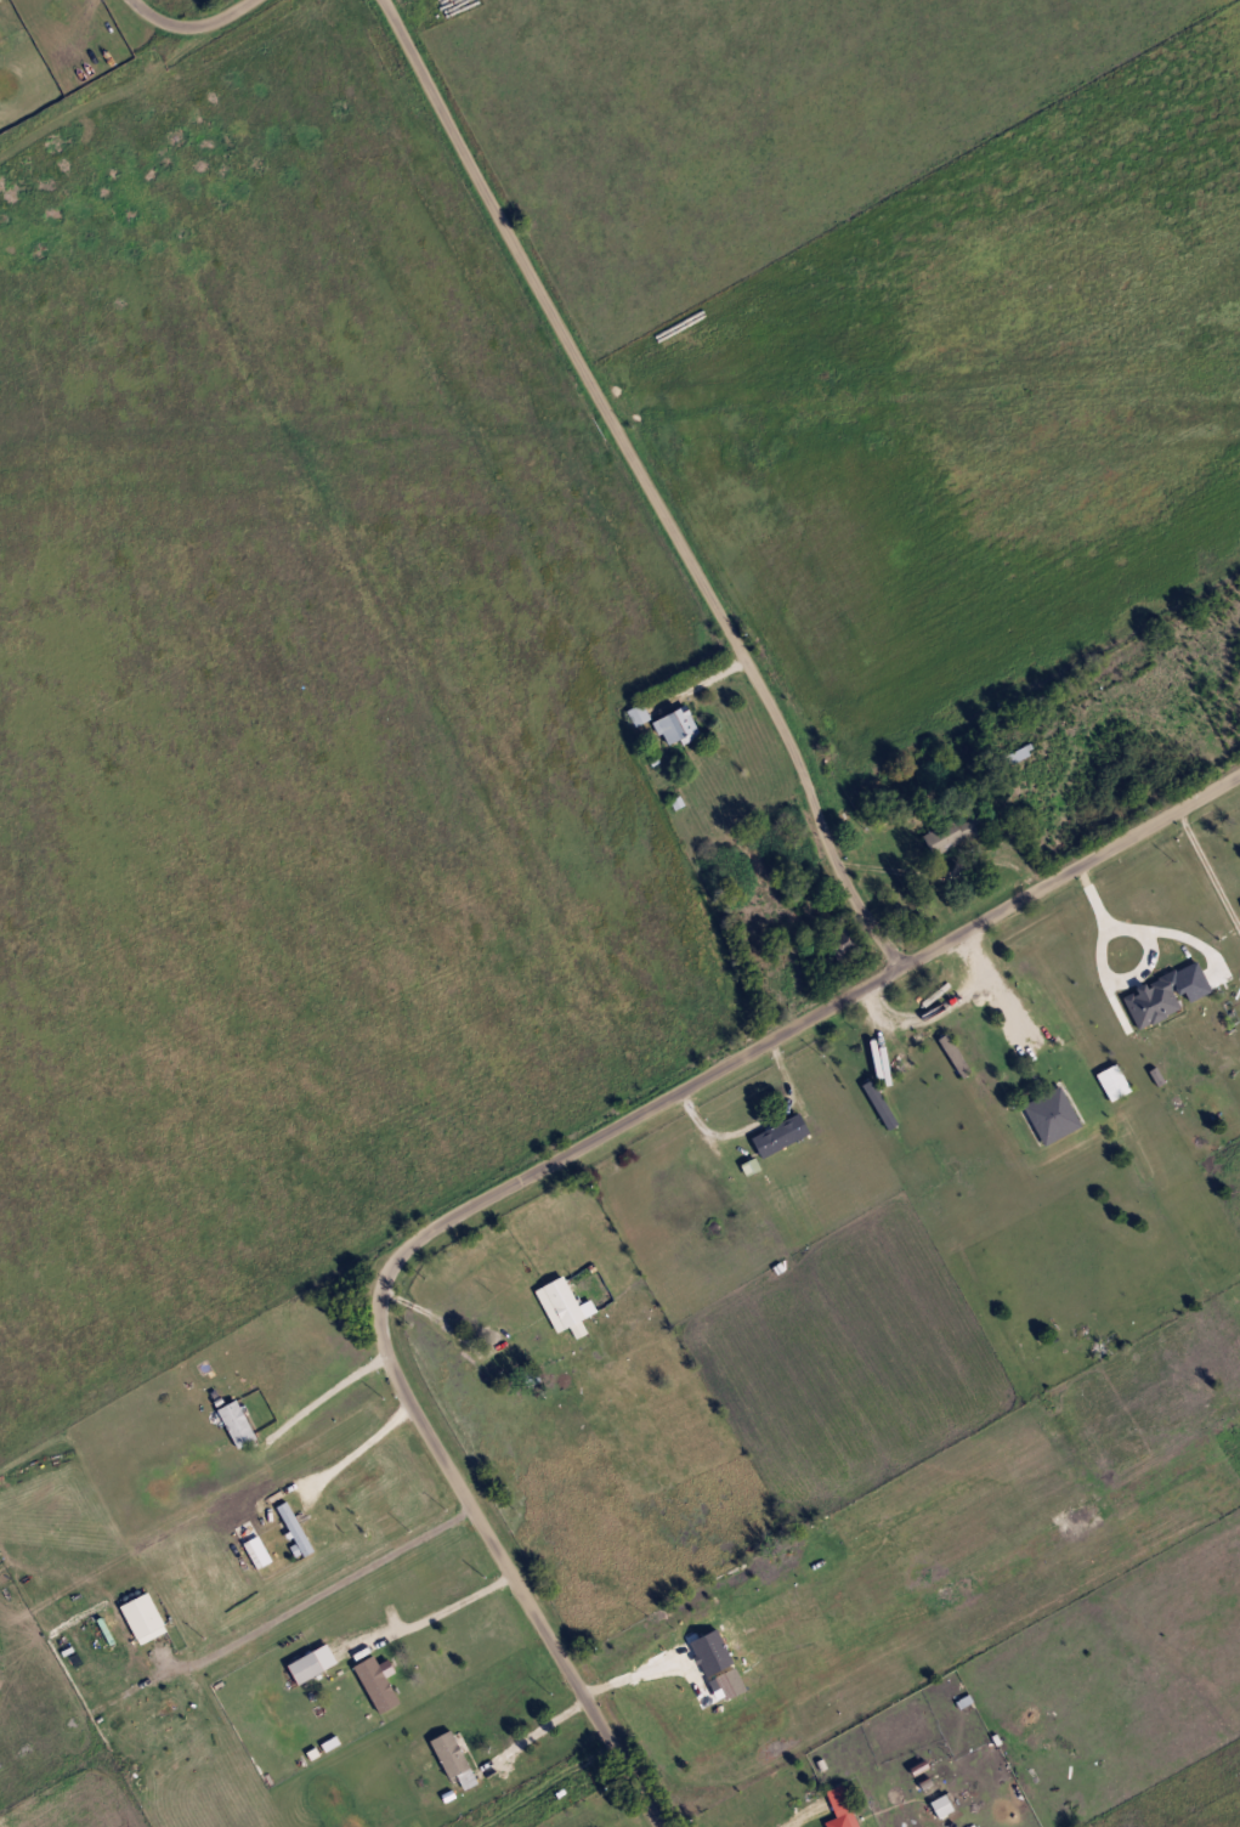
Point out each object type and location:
road: (191, 26)
road: (664, 520)
road: (697, 683)
building: (634, 713)
building: (672, 725)
building: (1015, 754)
building: (952, 830)
road: (1138, 831)
road: (1207, 872)
road: (1100, 912)
road: (861, 913)
building: (839, 939)
road: (997, 988)
building: (1149, 999)
road: (919, 1017)
building: (1109, 1081)
building: (1047, 1114)
building: (776, 1135)
road: (431, 1229)
building: (560, 1306)
road: (438, 1319)
road: (335, 1390)
building: (233, 1422)
road: (361, 1449)
building: (291, 1527)
road: (325, 1579)
road: (447, 1602)
building: (137, 1613)
building: (301, 1667)
road: (639, 1669)
building: (741, 1669)
building: (372, 1682)
building: (725, 1682)
road: (531, 1735)
building: (446, 1753)
building: (833, 1798)
building: (938, 1805)
building: (838, 1821)

